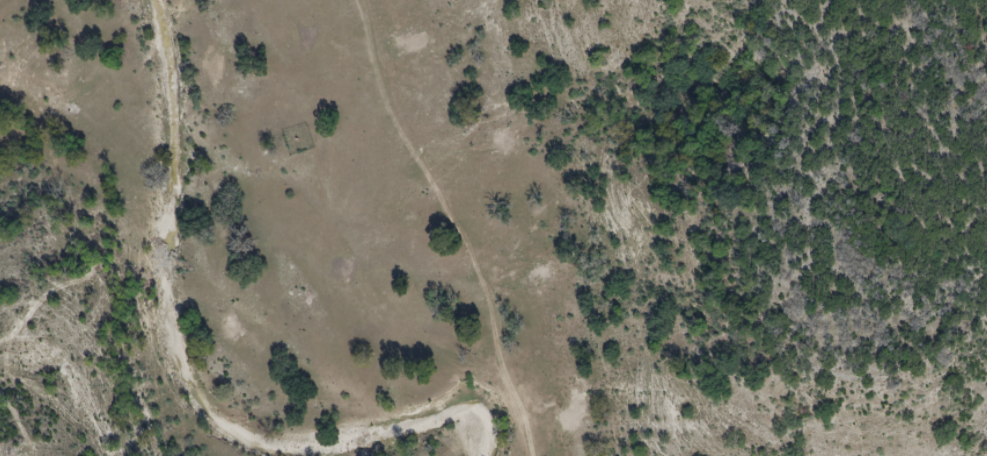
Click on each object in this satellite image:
road: (478, 219)

